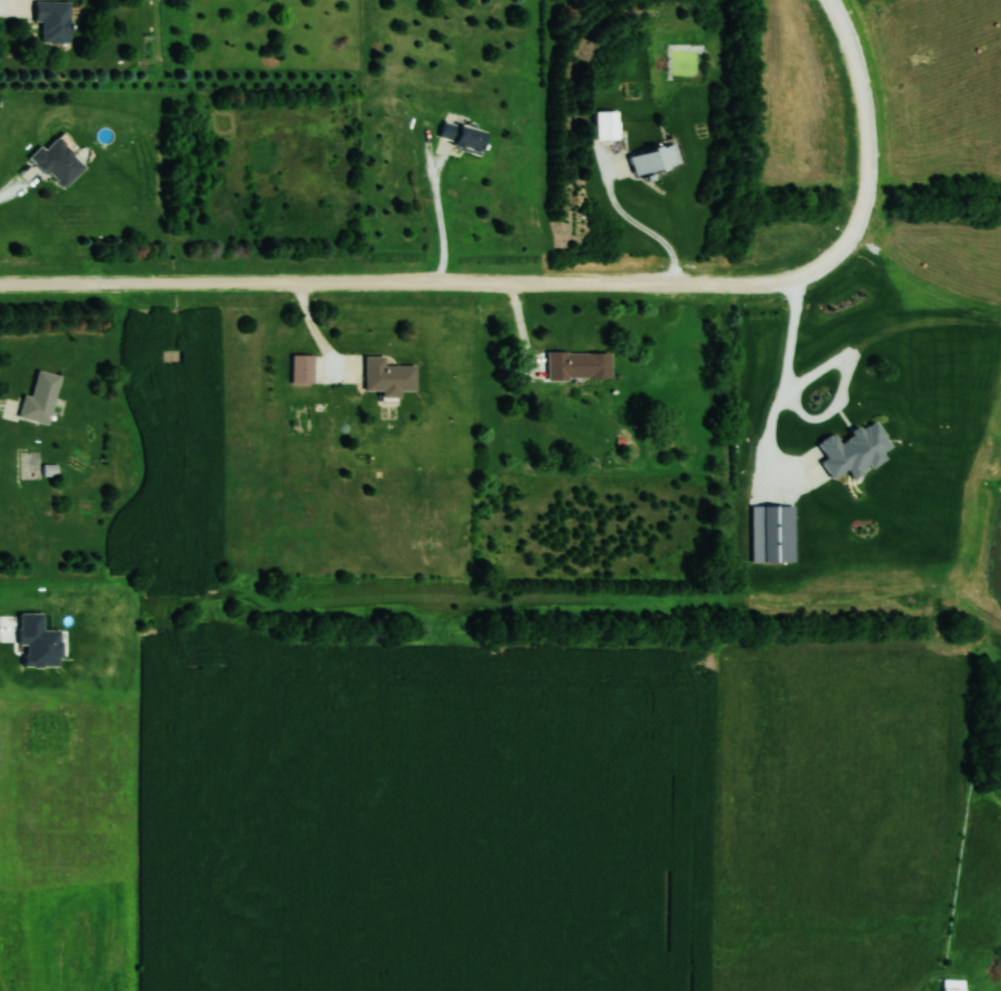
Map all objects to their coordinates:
building: (54, 20)
building: (608, 125)
building: (463, 136)
building: (655, 158)
building: (59, 161)
road: (866, 165)
road: (440, 215)
road: (638, 223)
road: (386, 286)
road: (319, 337)
building: (579, 365)
building: (303, 368)
building: (390, 377)
road: (780, 396)
building: (41, 398)
building: (954, 985)

